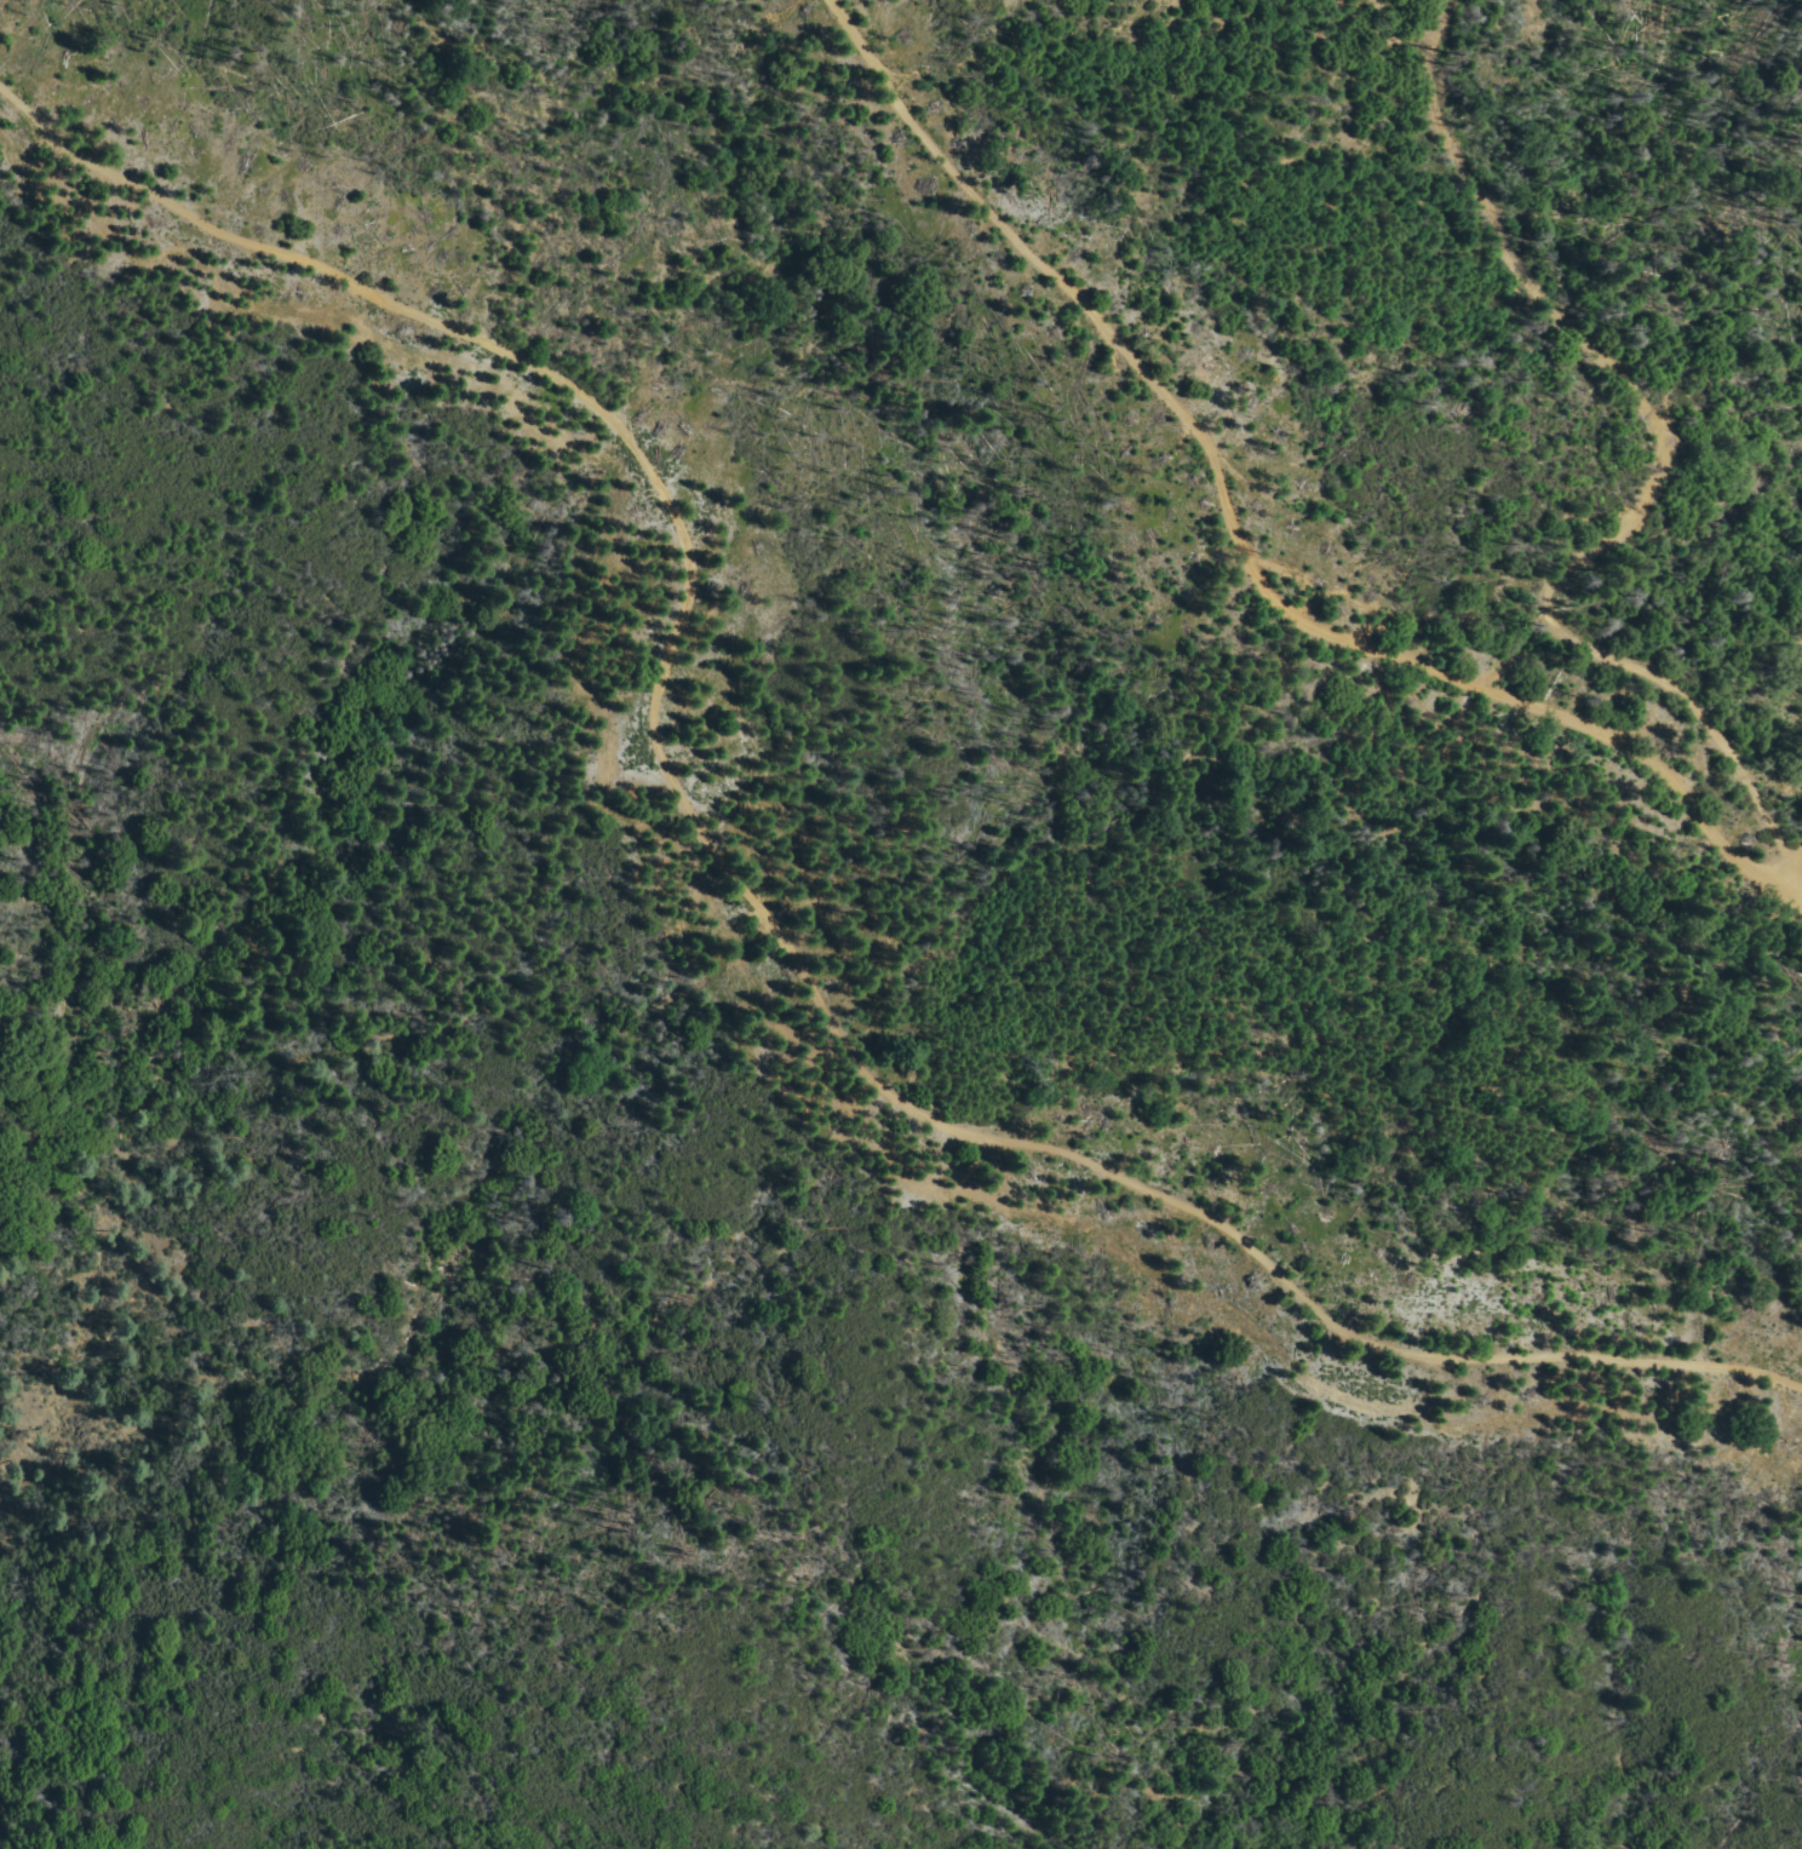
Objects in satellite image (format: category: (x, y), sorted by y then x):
road: (1655, 467)
road: (1230, 527)
road: (1783, 587)
road: (1787, 863)
road: (1785, 891)
road: (746, 892)

